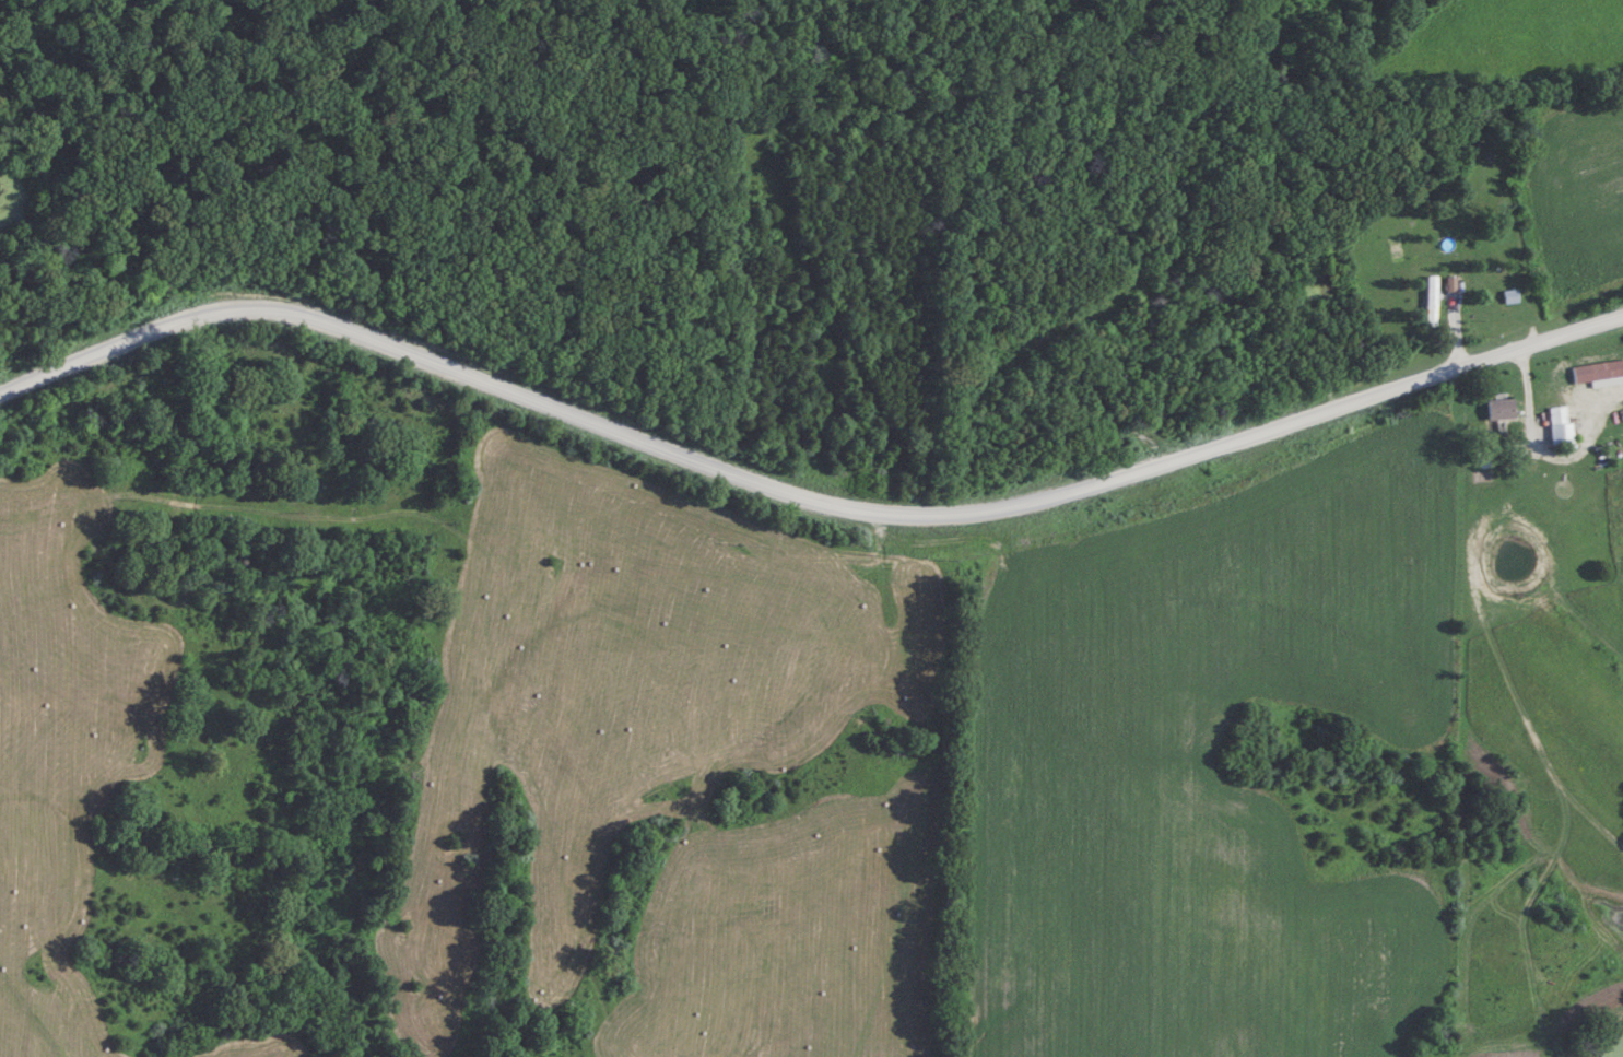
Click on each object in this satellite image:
building: (1510, 297)
building: (1431, 301)
building: (1597, 372)
building: (1499, 410)
building: (1560, 426)
road: (802, 492)

